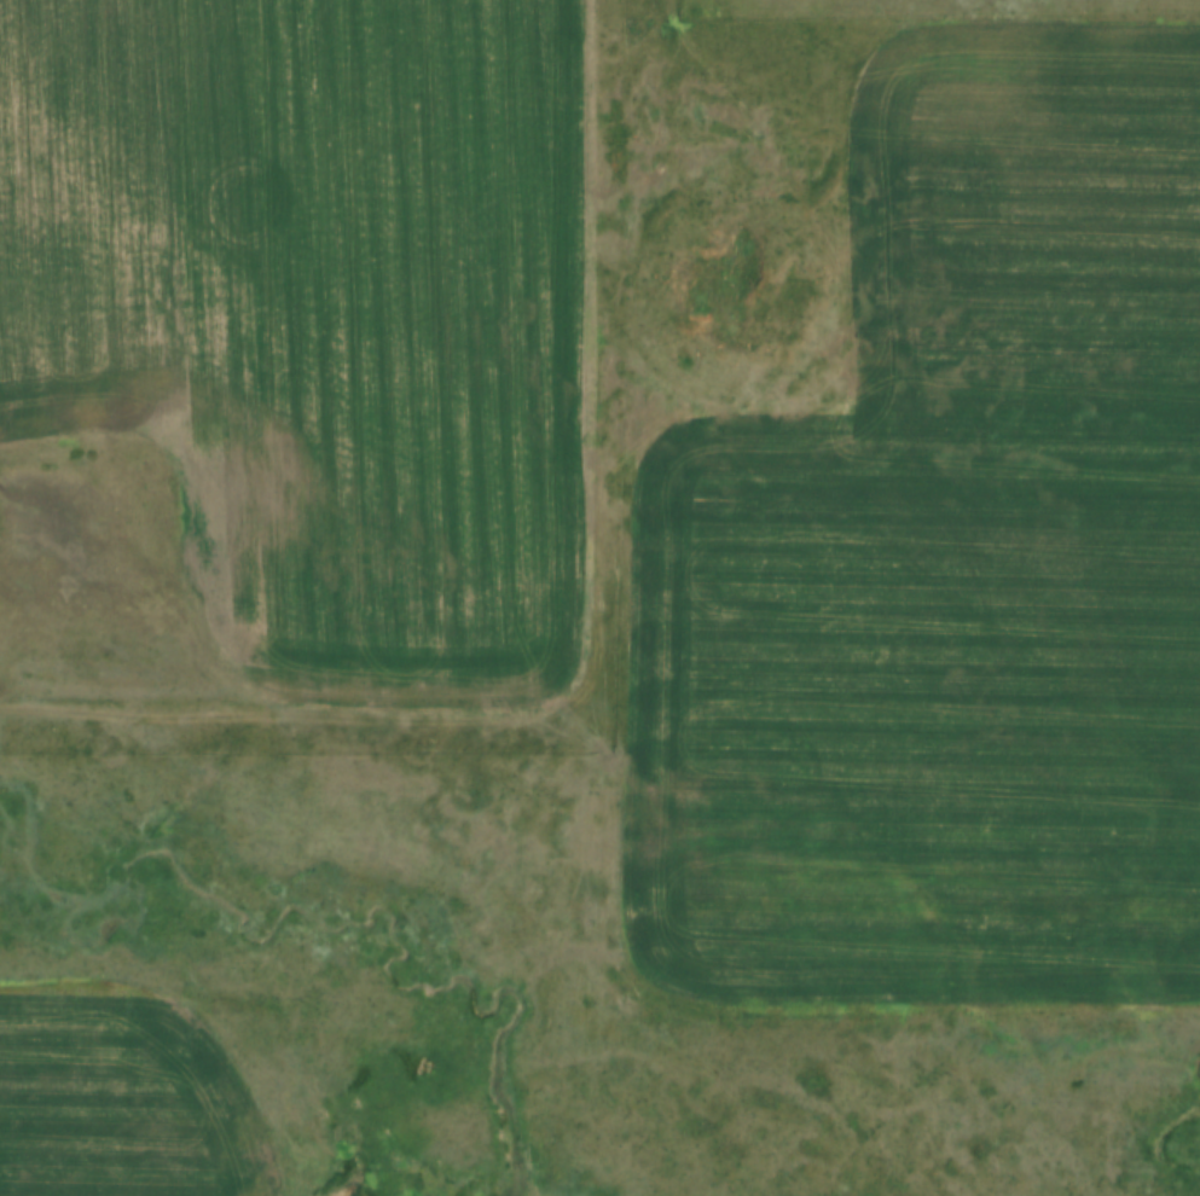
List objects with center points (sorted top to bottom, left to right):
road: (103, 712)

